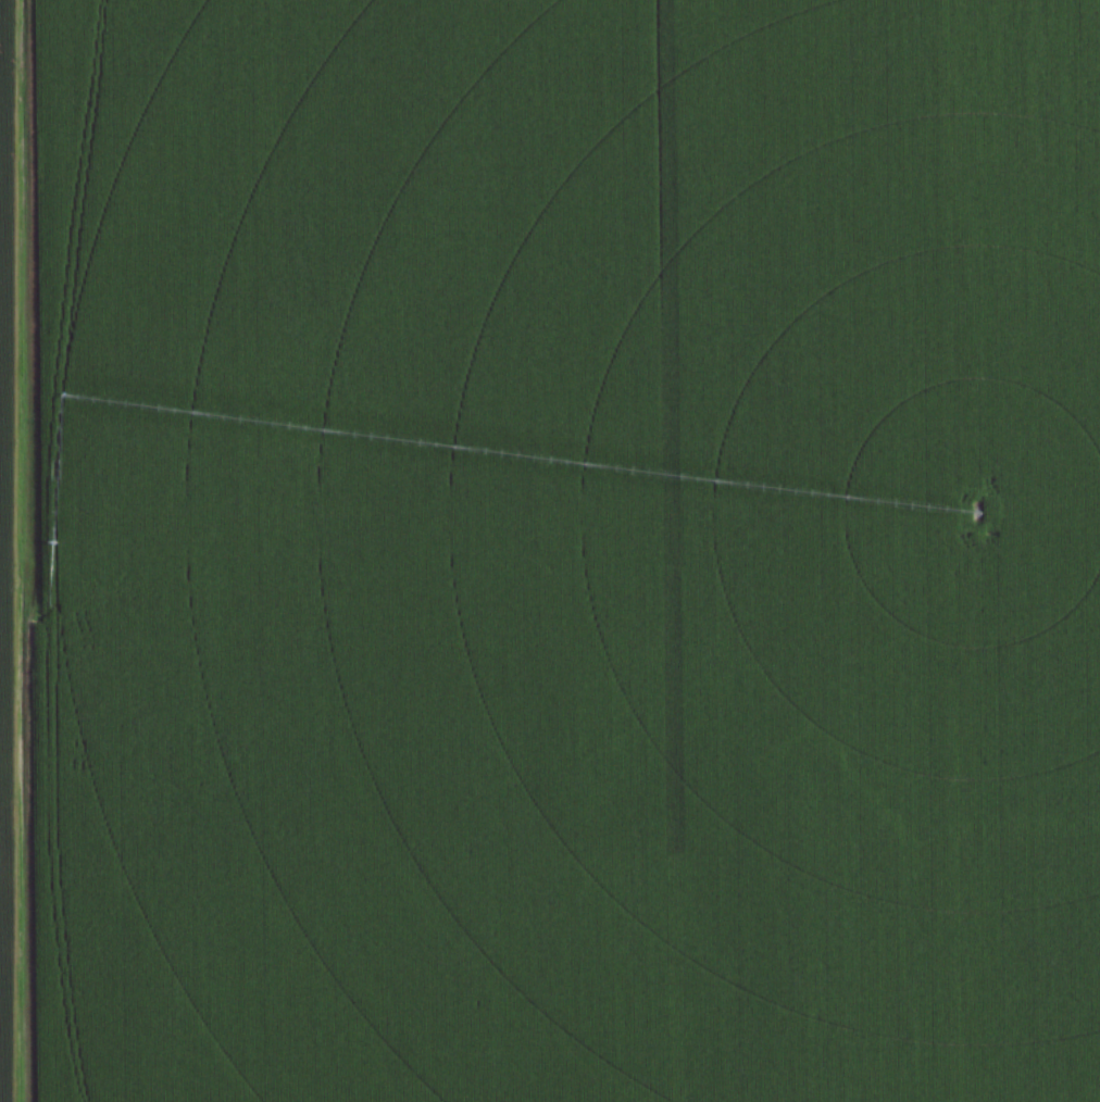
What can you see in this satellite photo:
crop: (550, 551)

